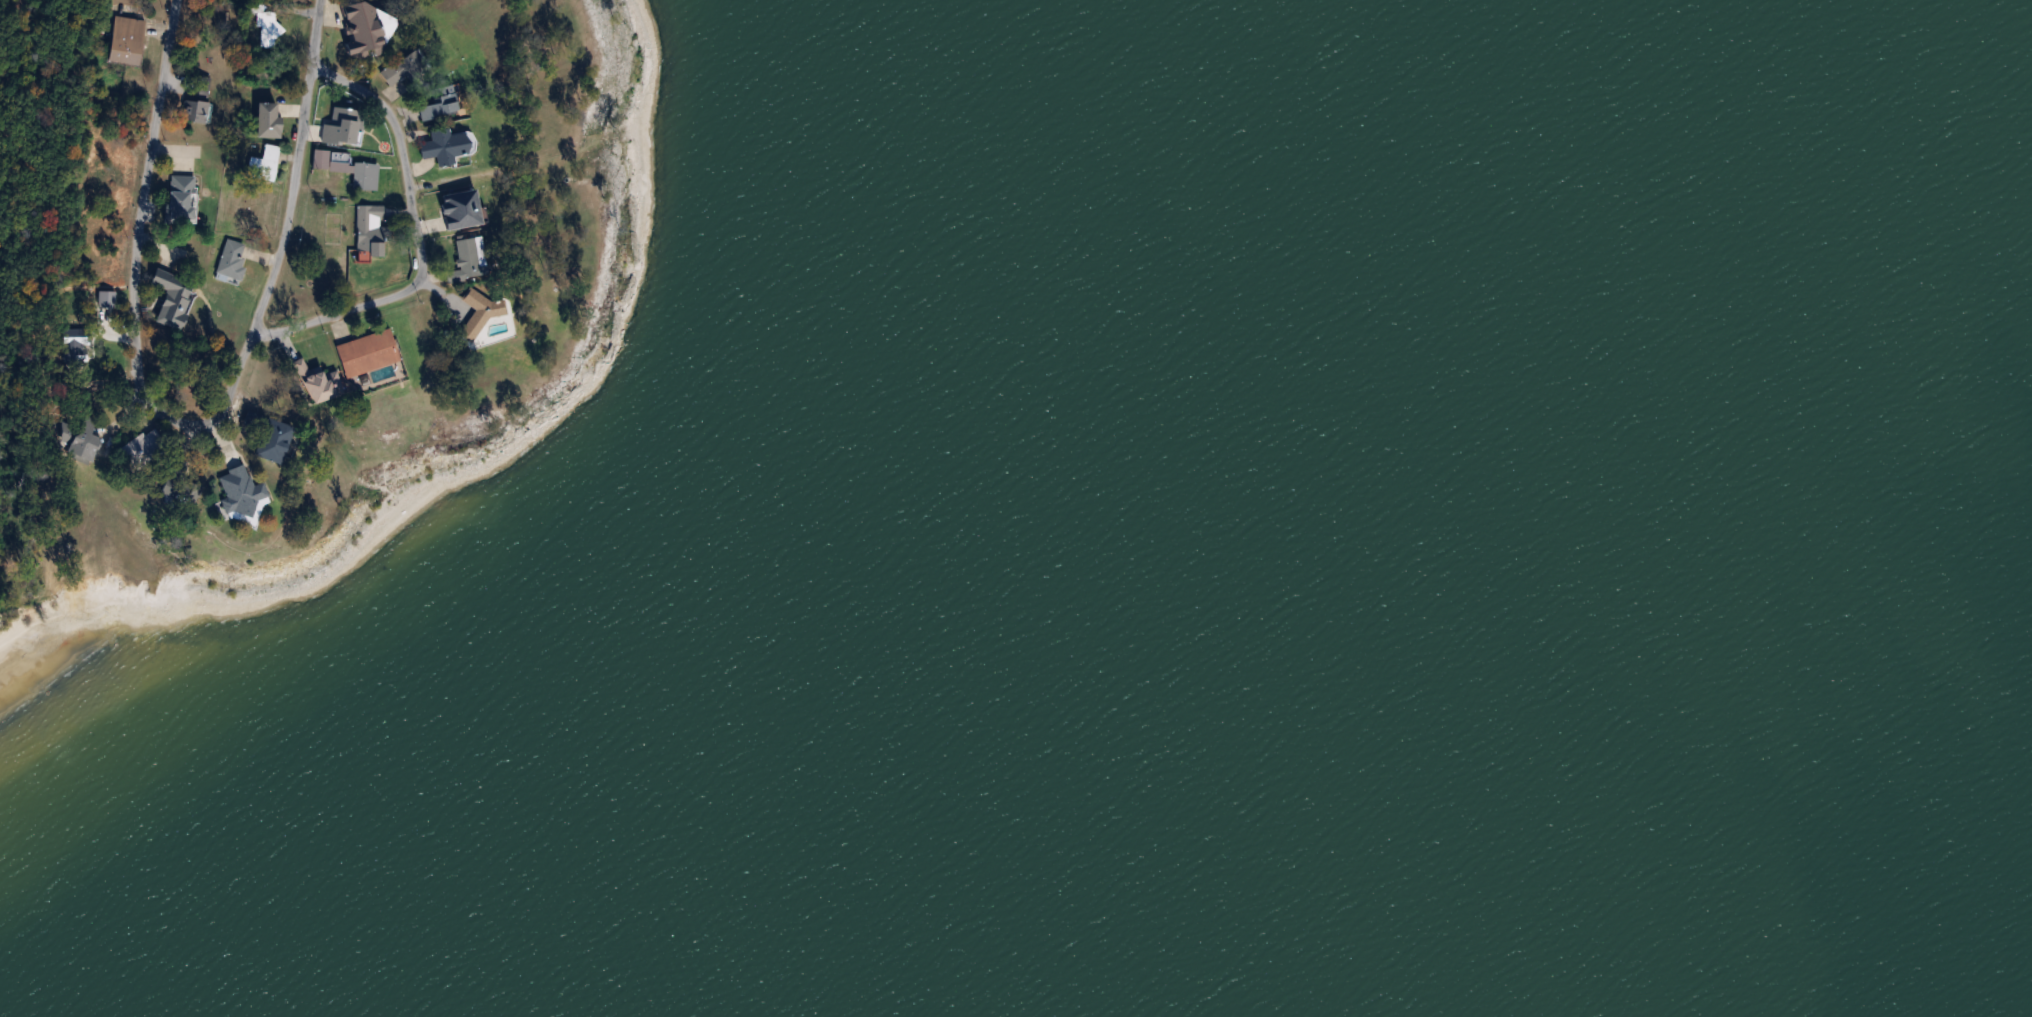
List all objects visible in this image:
building: (269, 28)
building: (366, 28)
building: (129, 39)
building: (406, 66)
building: (442, 102)
building: (198, 110)
building: (271, 118)
building: (346, 125)
building: (449, 144)
building: (268, 159)
building: (349, 166)
road: (298, 172)
building: (184, 196)
building: (462, 206)
building: (372, 229)
road: (420, 239)
building: (470, 258)
building: (233, 263)
road: (135, 280)
building: (175, 296)
building: (480, 312)
building: (91, 350)
building: (370, 351)
building: (323, 382)
building: (273, 436)
building: (89, 440)
building: (145, 445)
building: (176, 484)
building: (243, 492)

